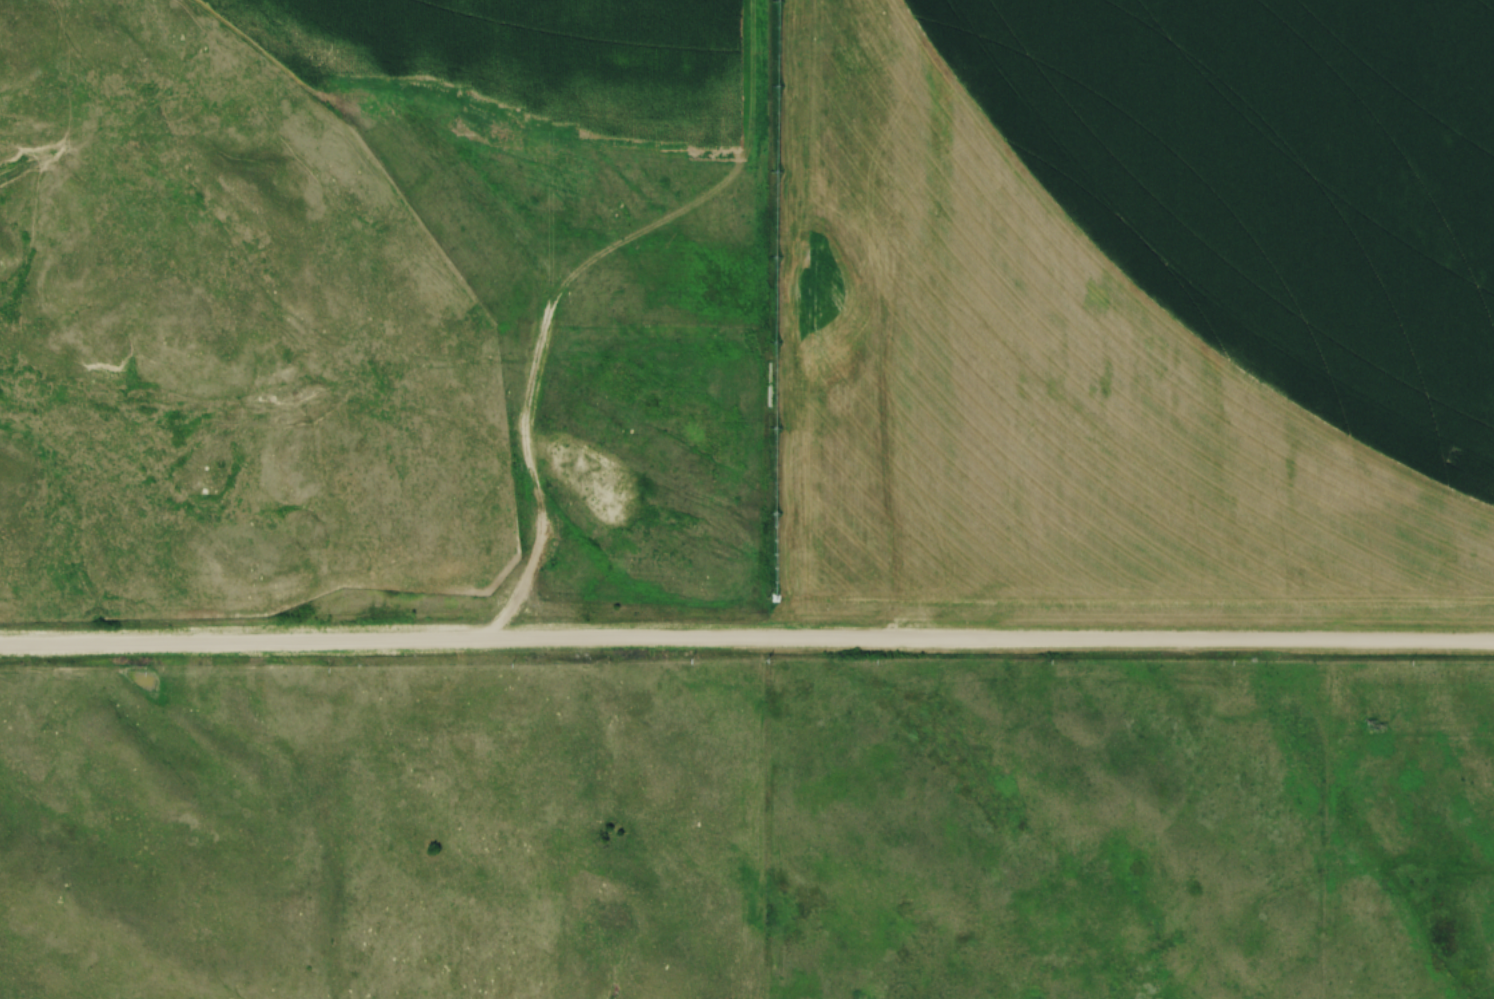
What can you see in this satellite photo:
road: (746, 638)

